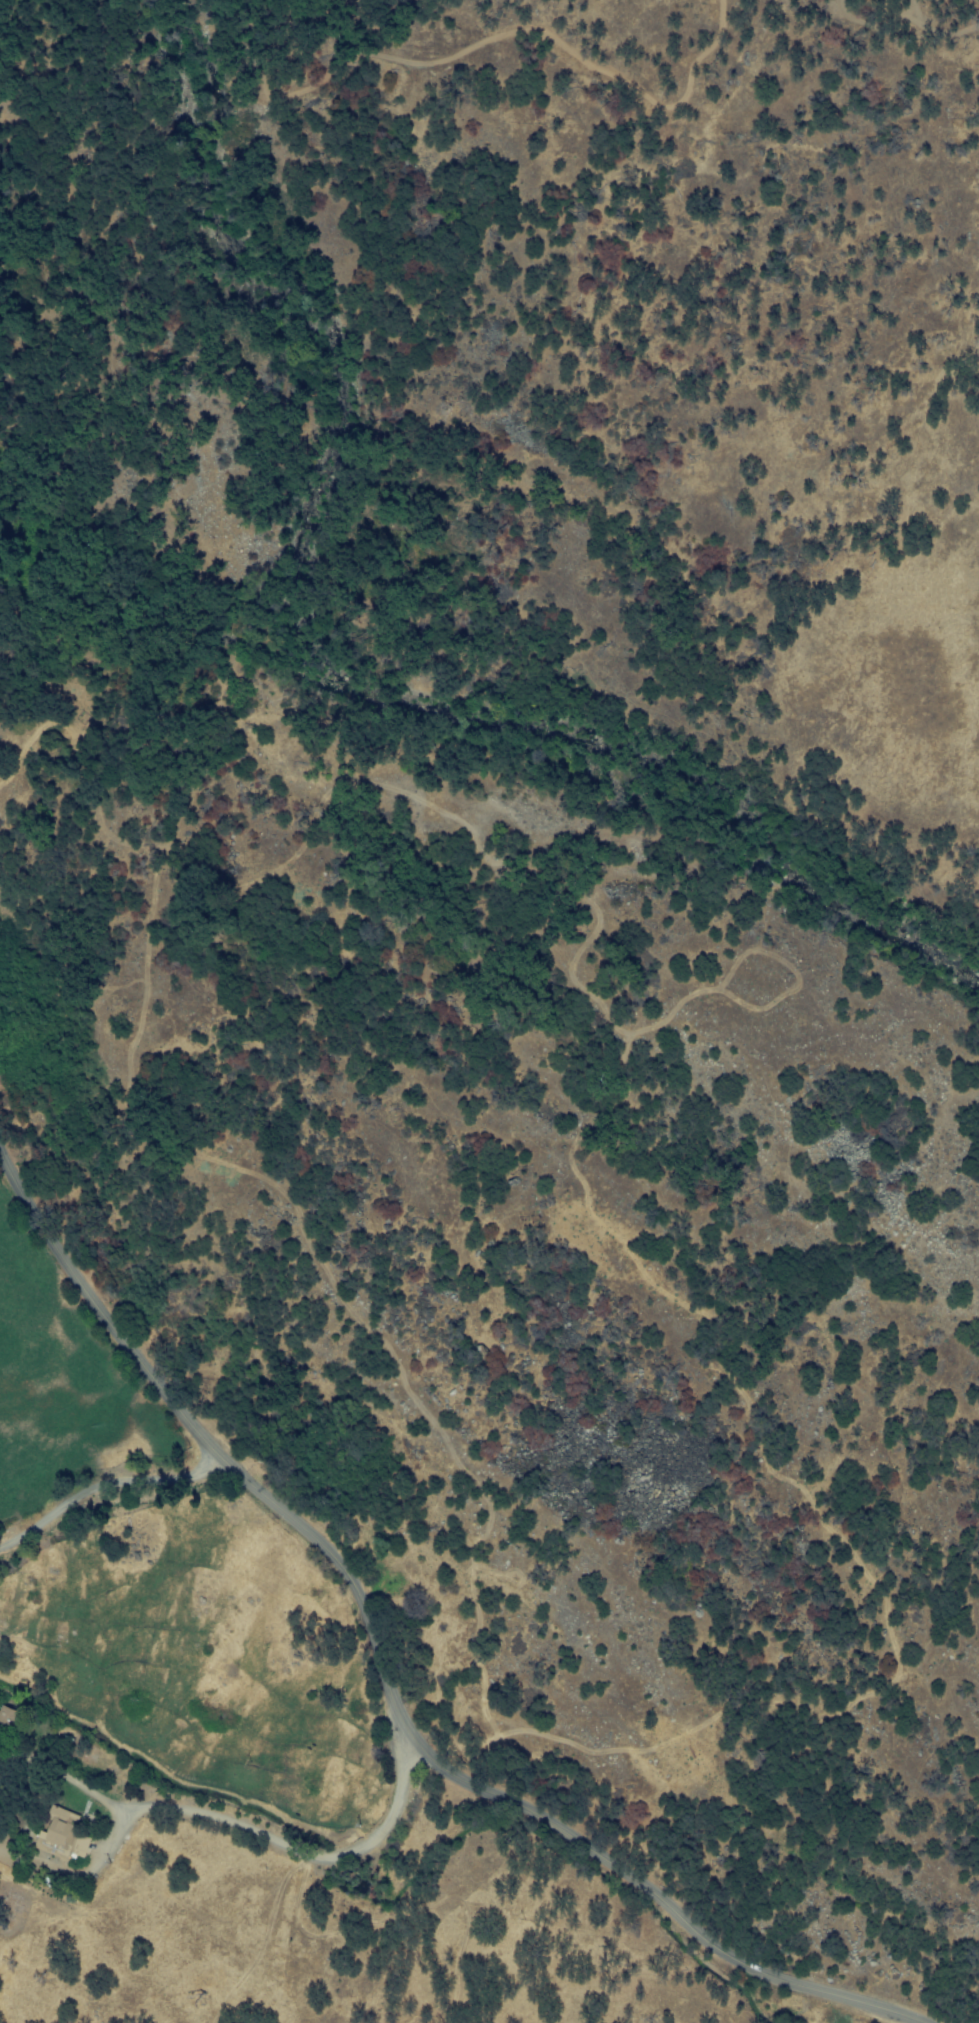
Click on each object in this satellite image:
river: (341, 665)
road: (112, 1502)
road: (383, 1678)
building: (6, 1721)
building: (63, 1838)

